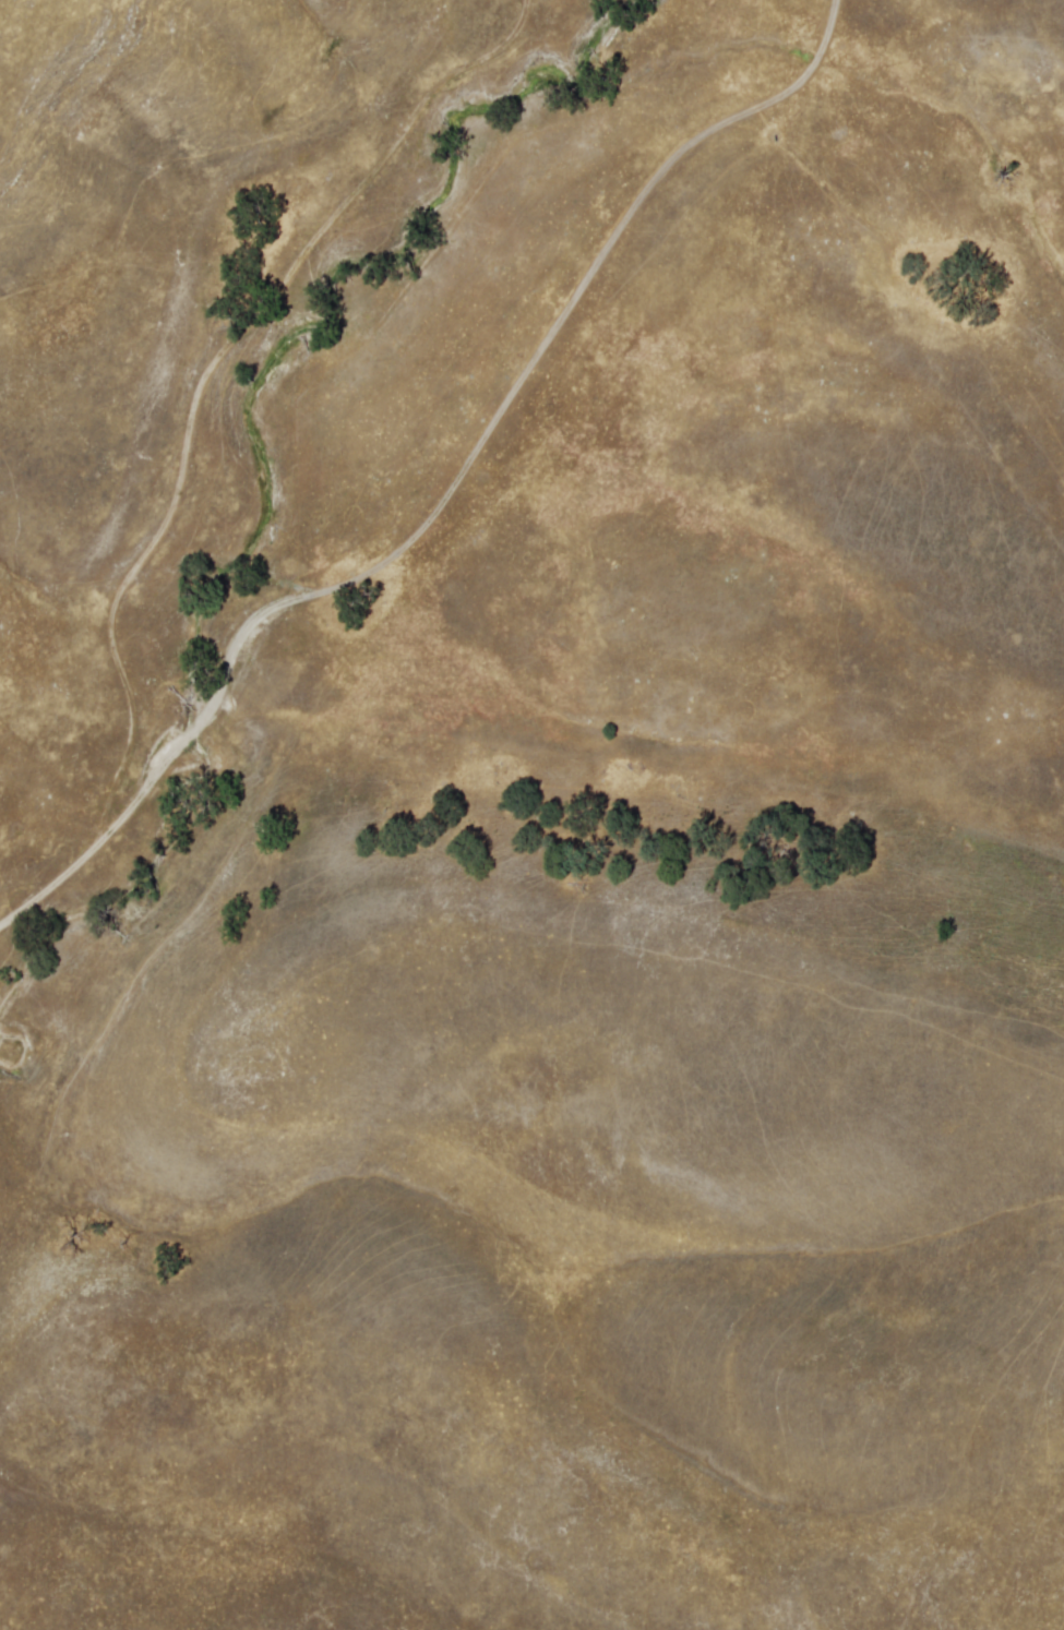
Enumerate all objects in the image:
road: (434, 484)

